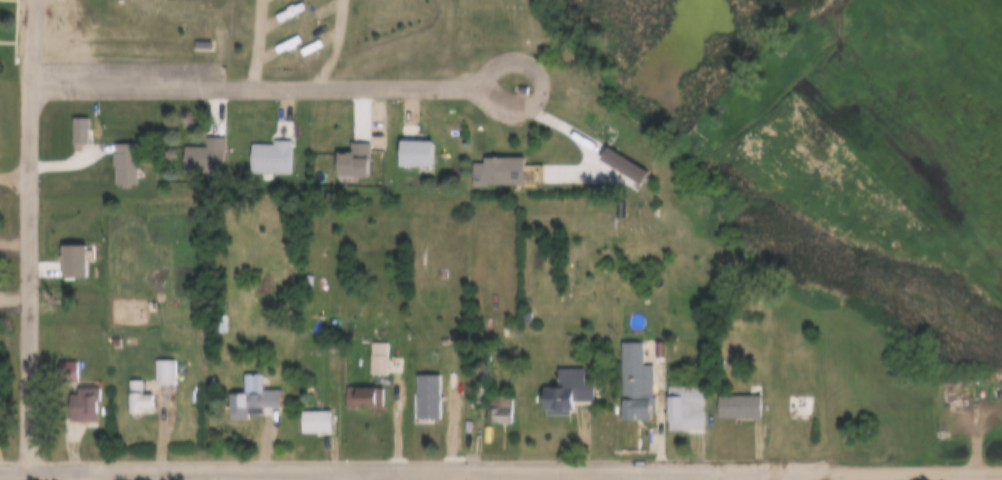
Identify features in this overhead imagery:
building: (487, 9)
building: (187, 33)
building: (491, 40)
building: (280, 46)
road: (526, 60)
road: (253, 81)
building: (65, 120)
building: (125, 126)
building: (76, 130)
building: (191, 143)
building: (400, 144)
building: (256, 146)
building: (338, 150)
building: (110, 154)
building: (607, 155)
building: (483, 163)
building: (237, 165)
building: (123, 169)
road: (15, 171)
building: (685, 220)
road: (31, 235)
road: (15, 239)
building: (57, 251)
road: (15, 301)
building: (206, 315)
building: (100, 330)
building: (644, 338)
building: (364, 347)
building: (376, 358)
building: (52, 361)
building: (149, 361)
building: (163, 372)
building: (620, 373)
building: (552, 381)
storage tank: (177, 383)
building: (413, 385)
building: (237, 387)
building: (350, 387)
building: (124, 389)
building: (68, 393)
building: (250, 396)
building: (670, 396)
building: (721, 396)
building: (361, 397)
building: (483, 397)
building: (137, 399)
building: (435, 403)
building: (80, 404)
building: (736, 406)
building: (797, 406)
building: (497, 408)
building: (301, 411)
building: (312, 422)
road: (868, 468)
road: (367, 469)
road: (214, 475)
road: (352, 475)
road: (66, 476)

